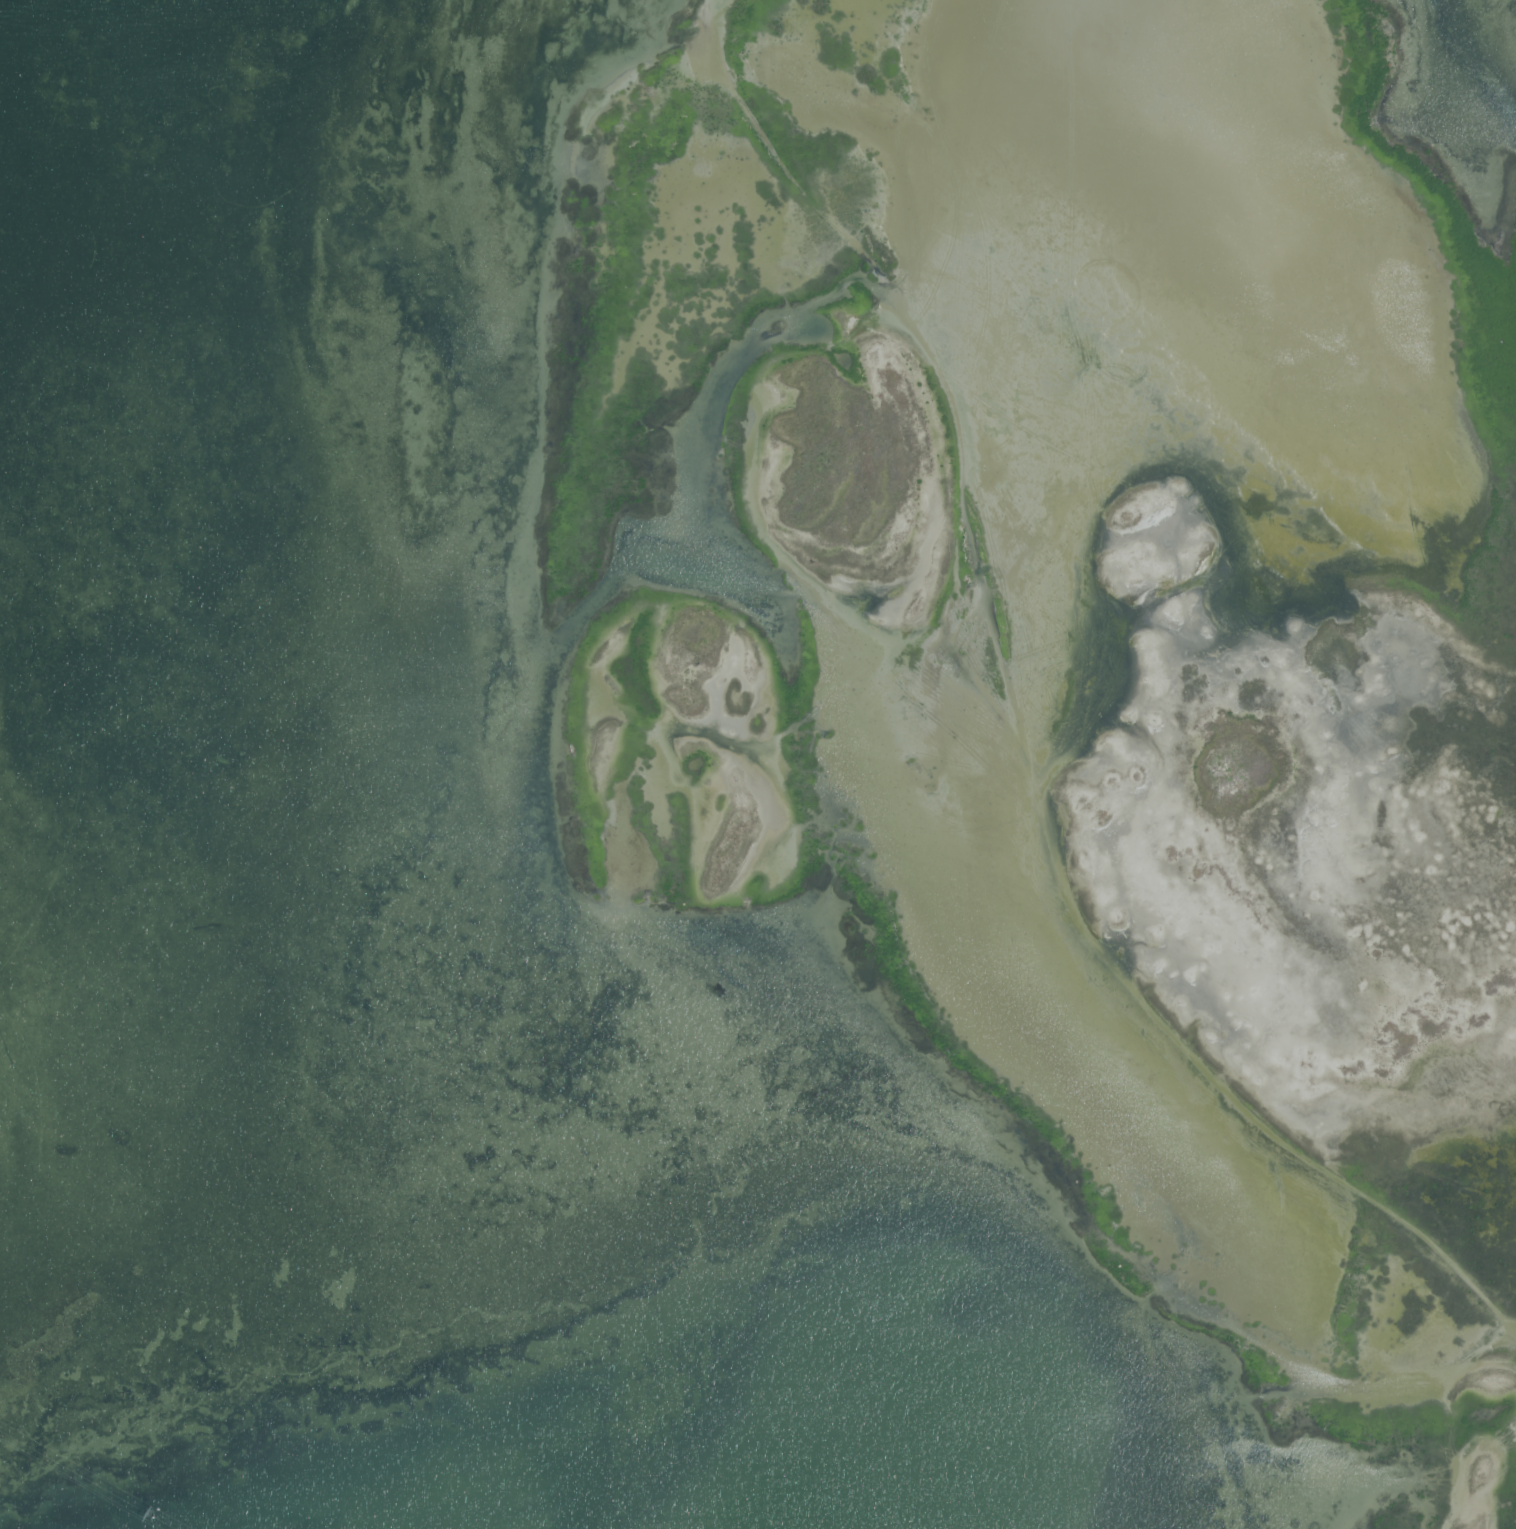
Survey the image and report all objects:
park: (1429, 1453)
power tower: (153, 1514)

